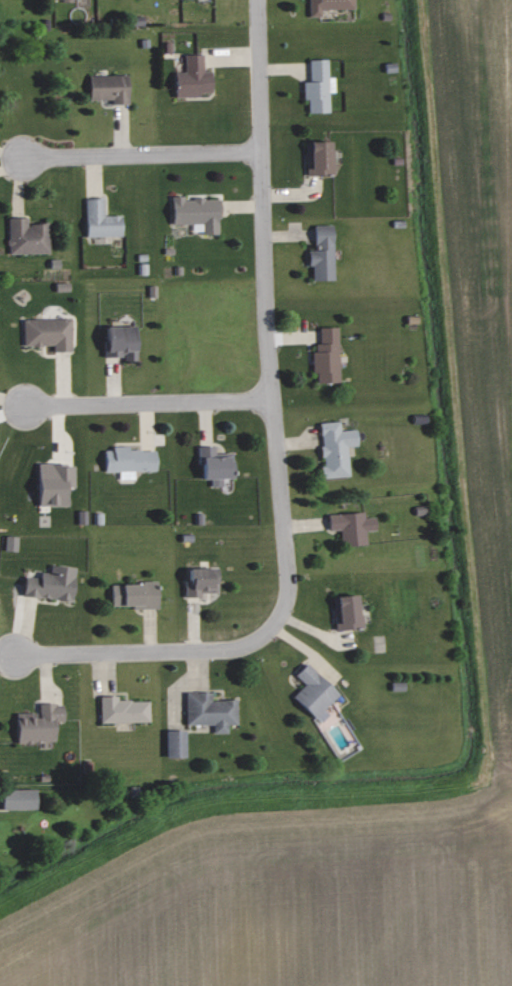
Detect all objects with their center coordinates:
building: (328, 6)
building: (192, 78)
building: (316, 87)
building: (108, 88)
road: (146, 157)
building: (319, 159)
building: (196, 214)
building: (100, 220)
building: (26, 237)
building: (321, 253)
building: (47, 332)
building: (119, 341)
building: (326, 355)
road: (150, 404)
road: (276, 448)
building: (335, 448)
building: (128, 460)
building: (214, 464)
building: (53, 483)
building: (81, 516)
building: (350, 526)
building: (10, 542)
building: (199, 580)
building: (50, 583)
building: (134, 594)
building: (347, 611)
building: (313, 691)
building: (122, 710)
building: (209, 710)
building: (38, 723)
building: (174, 743)
building: (17, 798)

